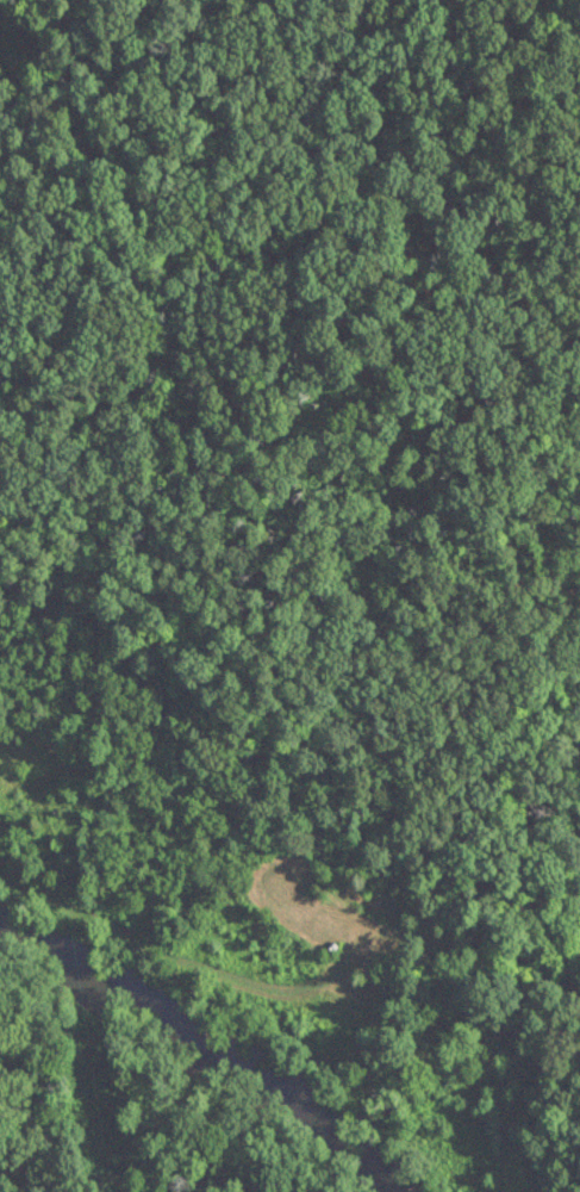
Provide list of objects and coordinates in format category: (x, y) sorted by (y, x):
road: (220, 961)

